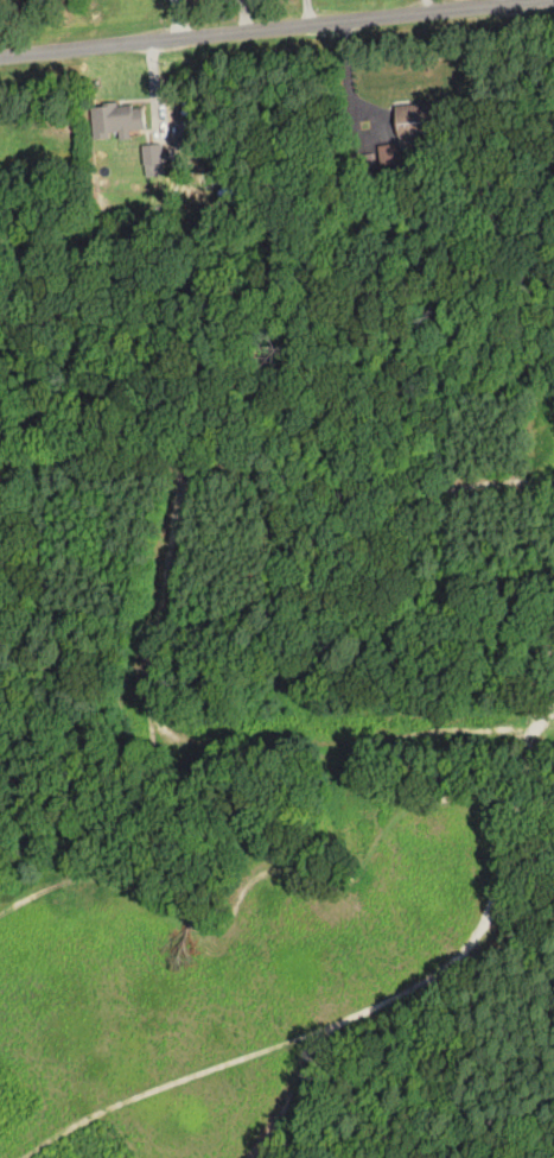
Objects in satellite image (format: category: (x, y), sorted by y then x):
road: (276, 34)
building: (116, 118)
building: (413, 121)
building: (153, 157)

